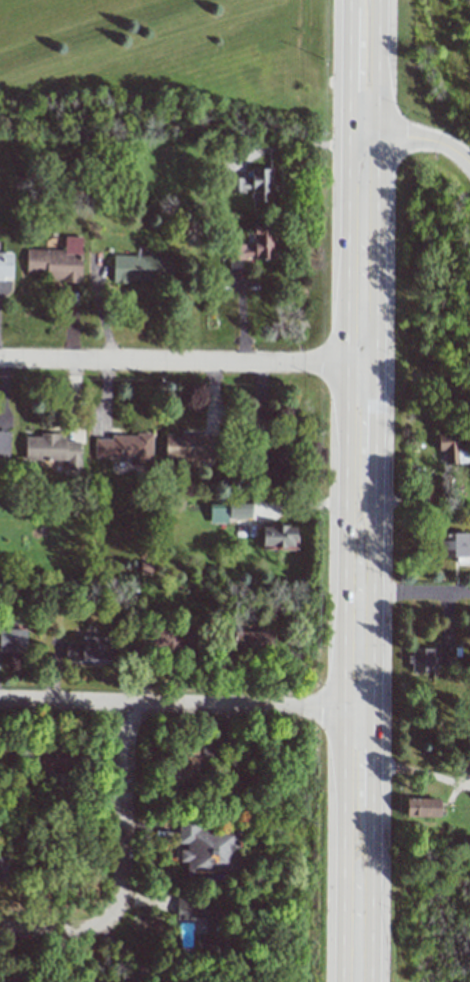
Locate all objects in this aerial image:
road: (363, 71)
road: (419, 143)
building: (254, 185)
building: (256, 245)
building: (57, 261)
building: (5, 265)
building: (141, 268)
road: (240, 310)
road: (180, 362)
road: (263, 420)
road: (360, 425)
building: (4, 445)
building: (450, 445)
building: (125, 448)
building: (188, 448)
building: (52, 449)
building: (272, 462)
building: (228, 510)
building: (278, 537)
building: (455, 546)
road: (414, 591)
building: (163, 640)
building: (12, 641)
building: (252, 642)
building: (88, 650)
building: (430, 658)
road: (178, 705)
building: (53, 759)
building: (179, 765)
building: (421, 807)
road: (356, 845)
building: (207, 848)
road: (120, 868)
building: (2, 870)
building: (205, 925)
building: (16, 978)
building: (115, 981)

